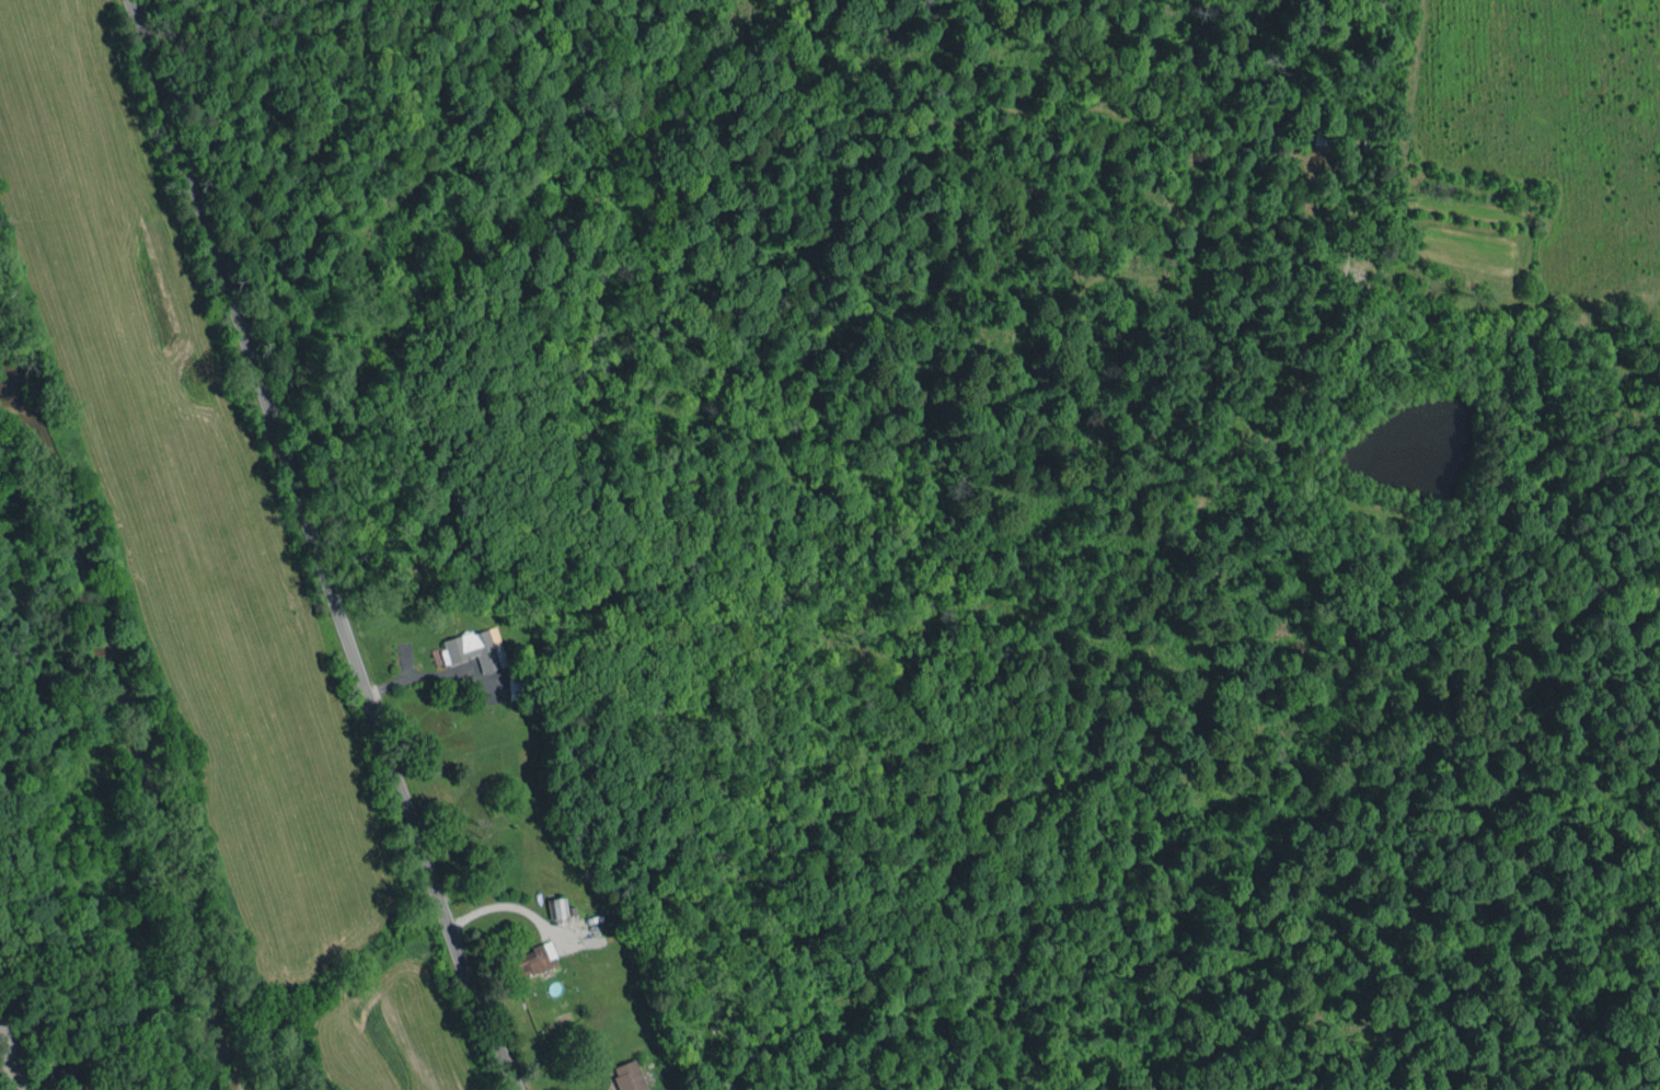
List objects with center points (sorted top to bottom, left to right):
road: (685, 105)
road: (312, 548)
building: (472, 646)
road: (496, 907)
building: (534, 955)
road: (9, 1058)
building: (70, 1075)
building: (626, 1075)

